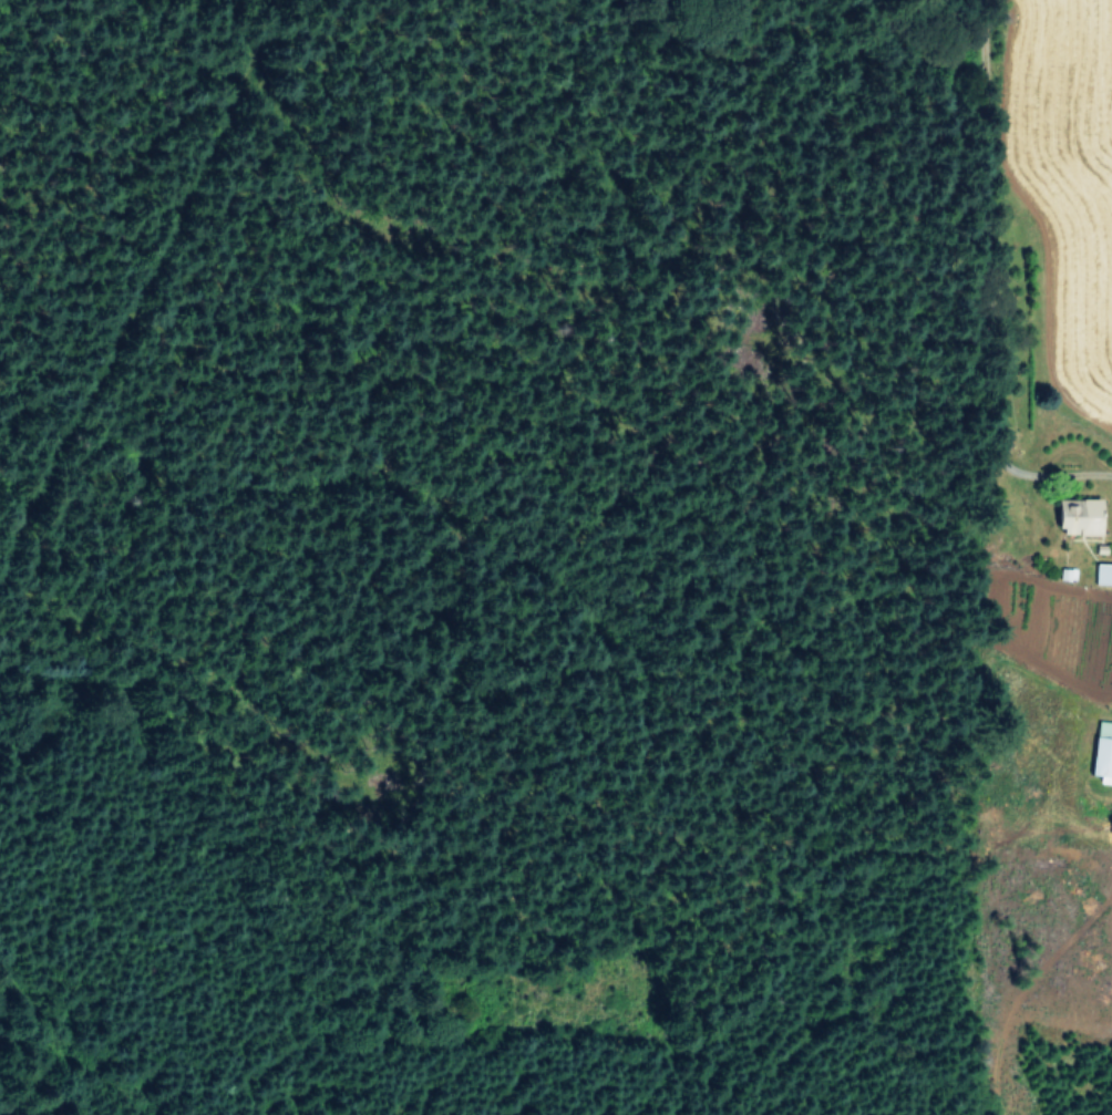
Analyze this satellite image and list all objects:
road: (986, 290)
crop: (1040, 371)
building: (1103, 572)
building: (1102, 755)

